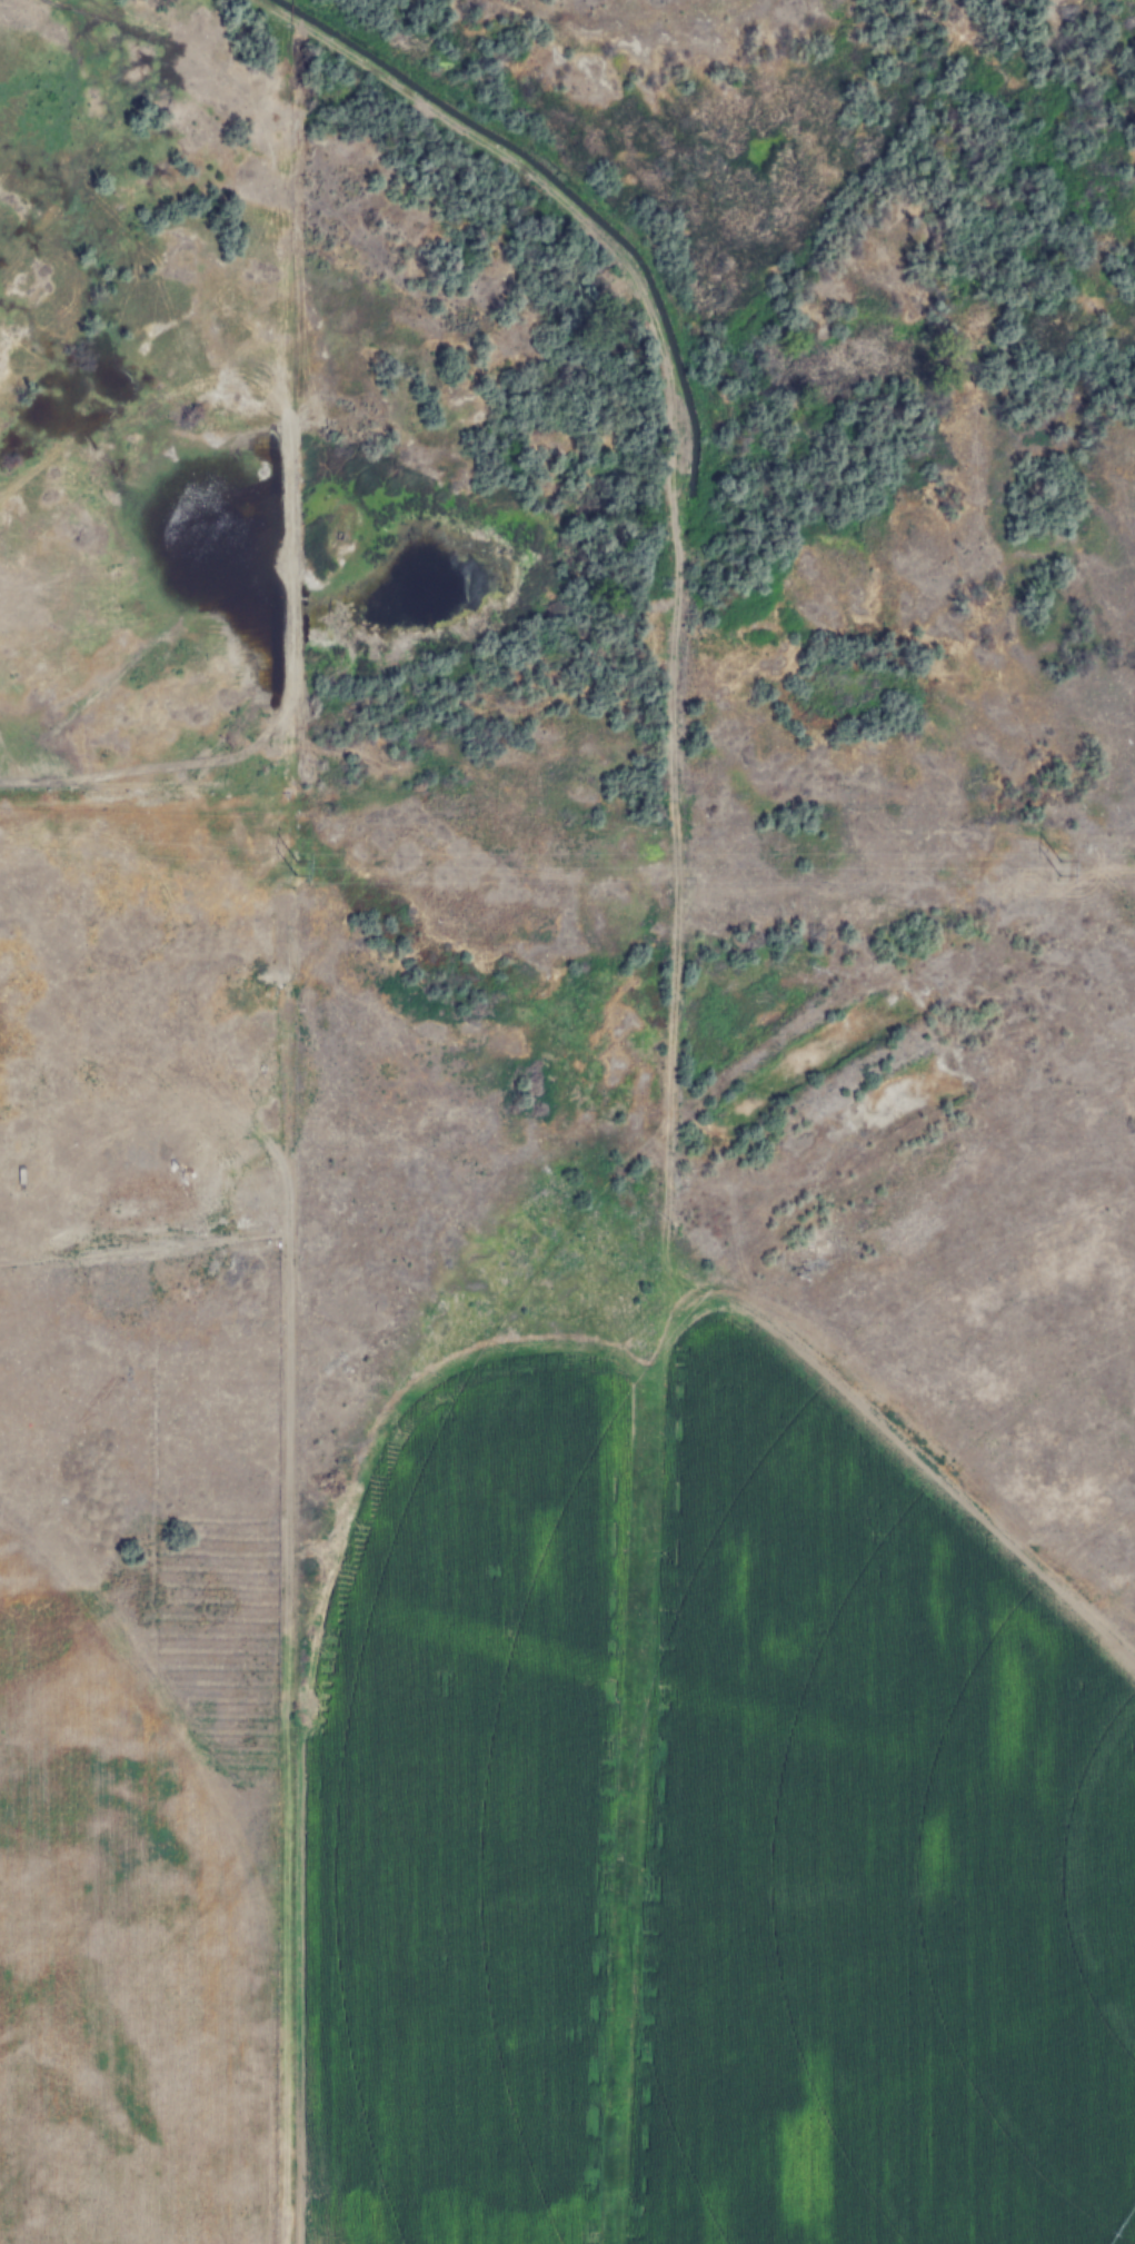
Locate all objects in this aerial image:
power tower: (289, 868)
power tower: (1062, 870)
building: (1, 1356)
crop: (704, 1819)
crop: (111, 1966)

